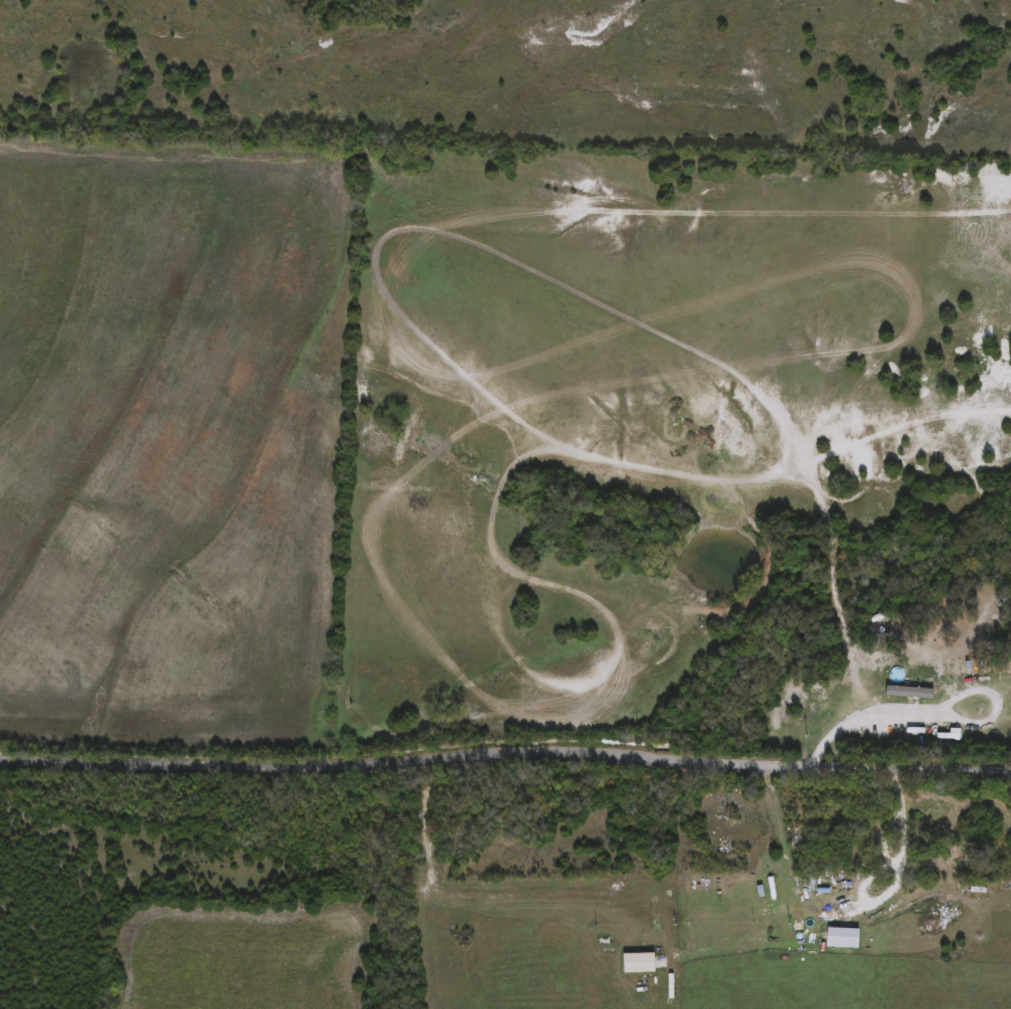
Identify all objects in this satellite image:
road: (933, 706)
road: (505, 752)
road: (892, 882)
building: (849, 911)

